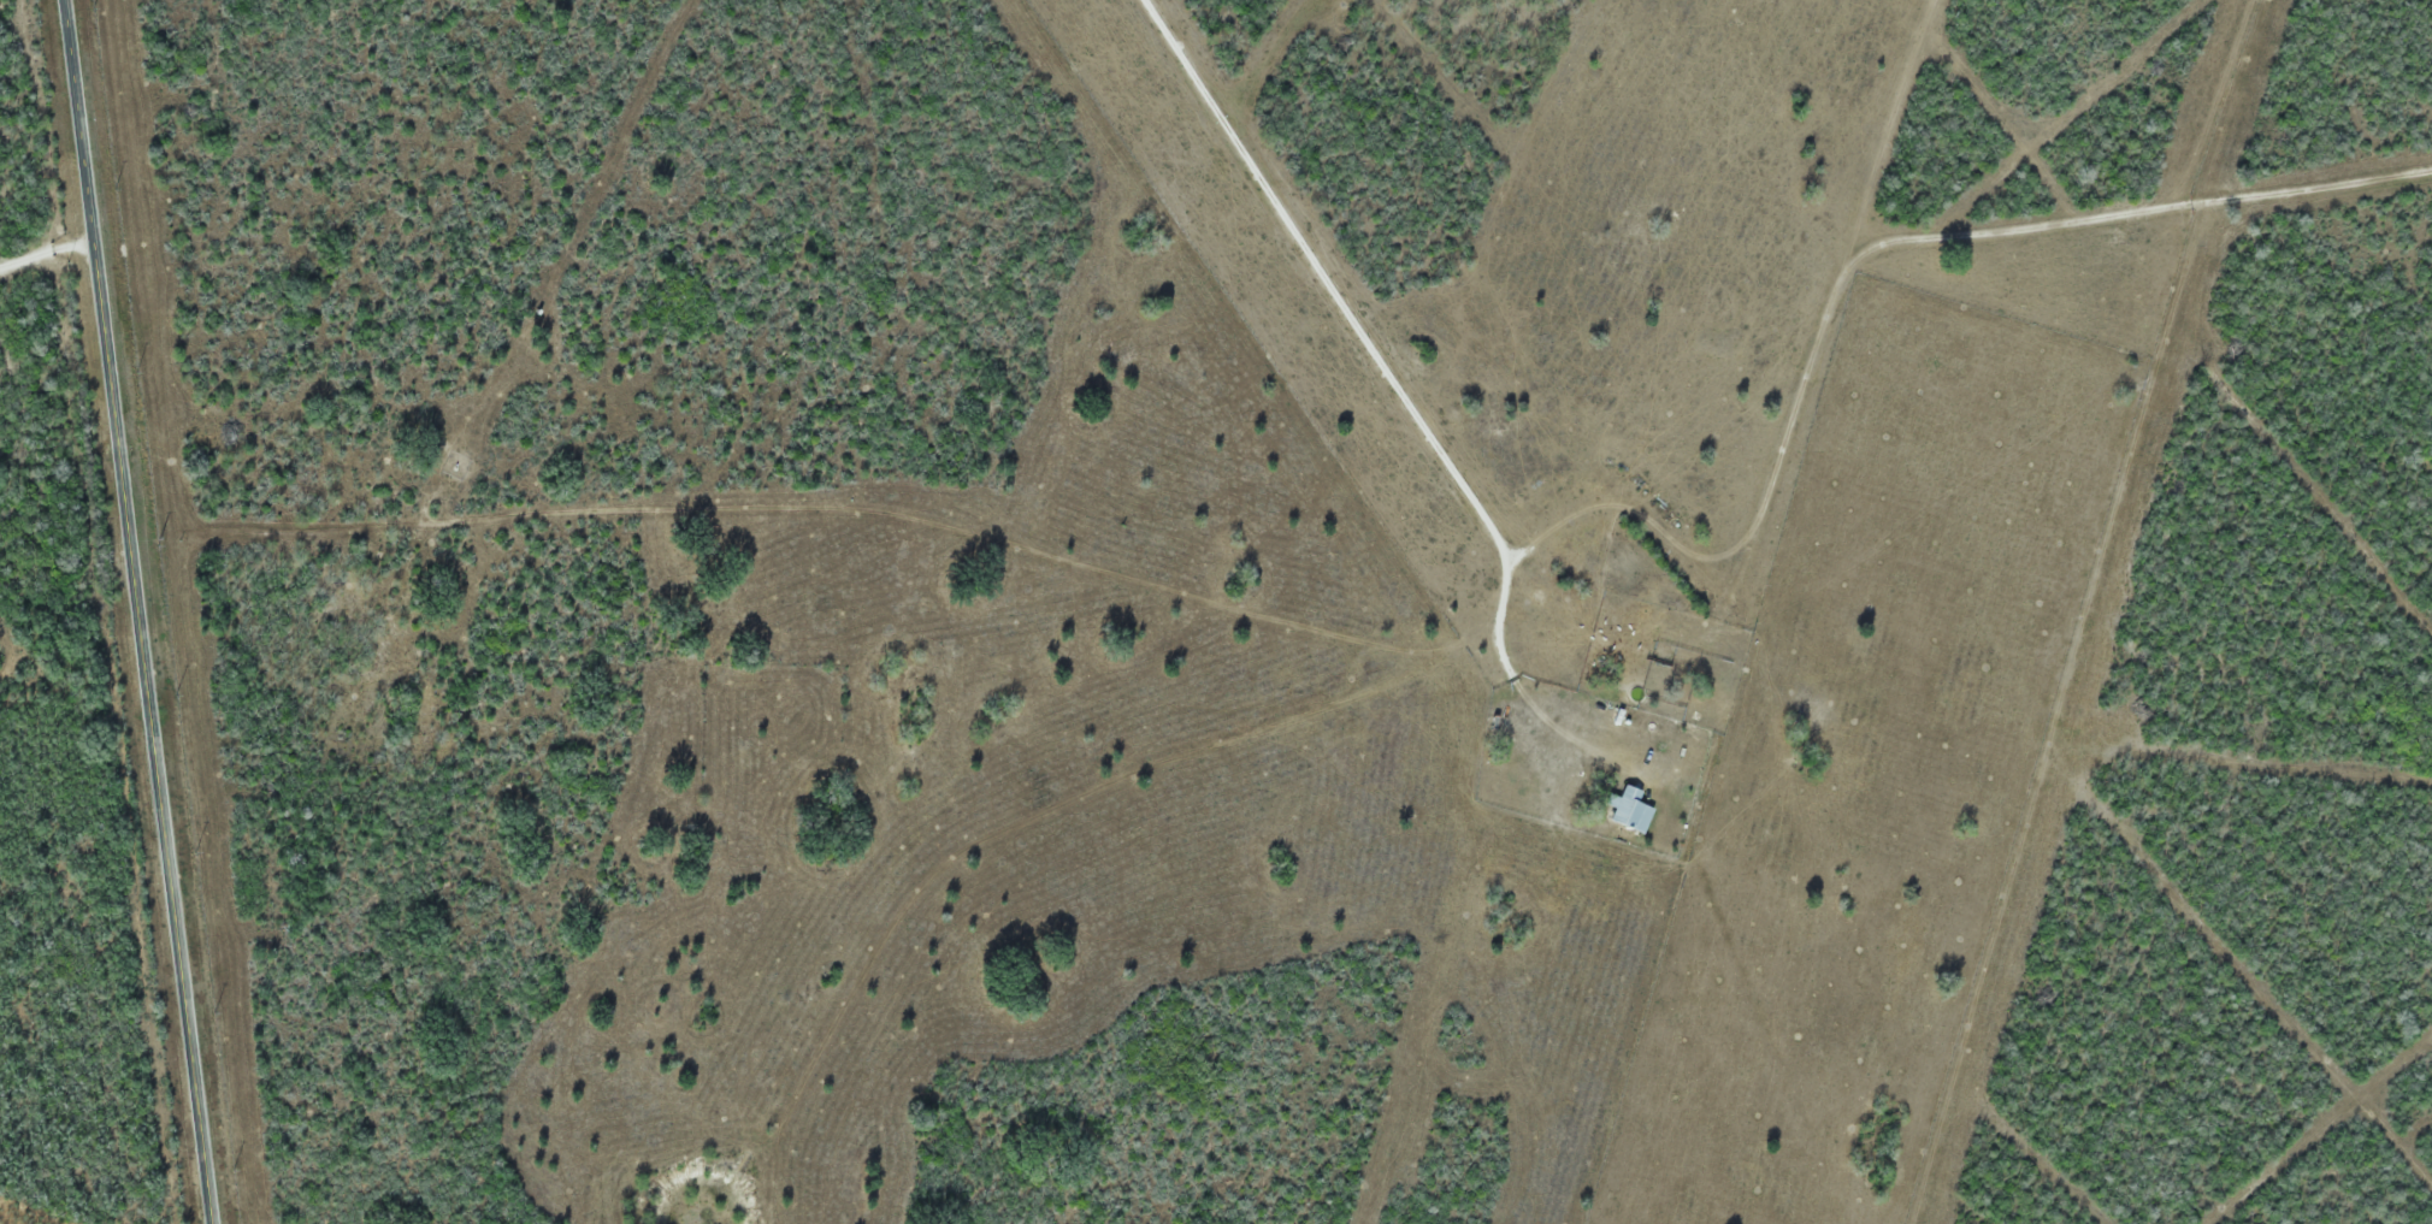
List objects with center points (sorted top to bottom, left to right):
road: (47, 252)
road: (140, 611)
building: (1500, 723)
building: (1630, 809)

